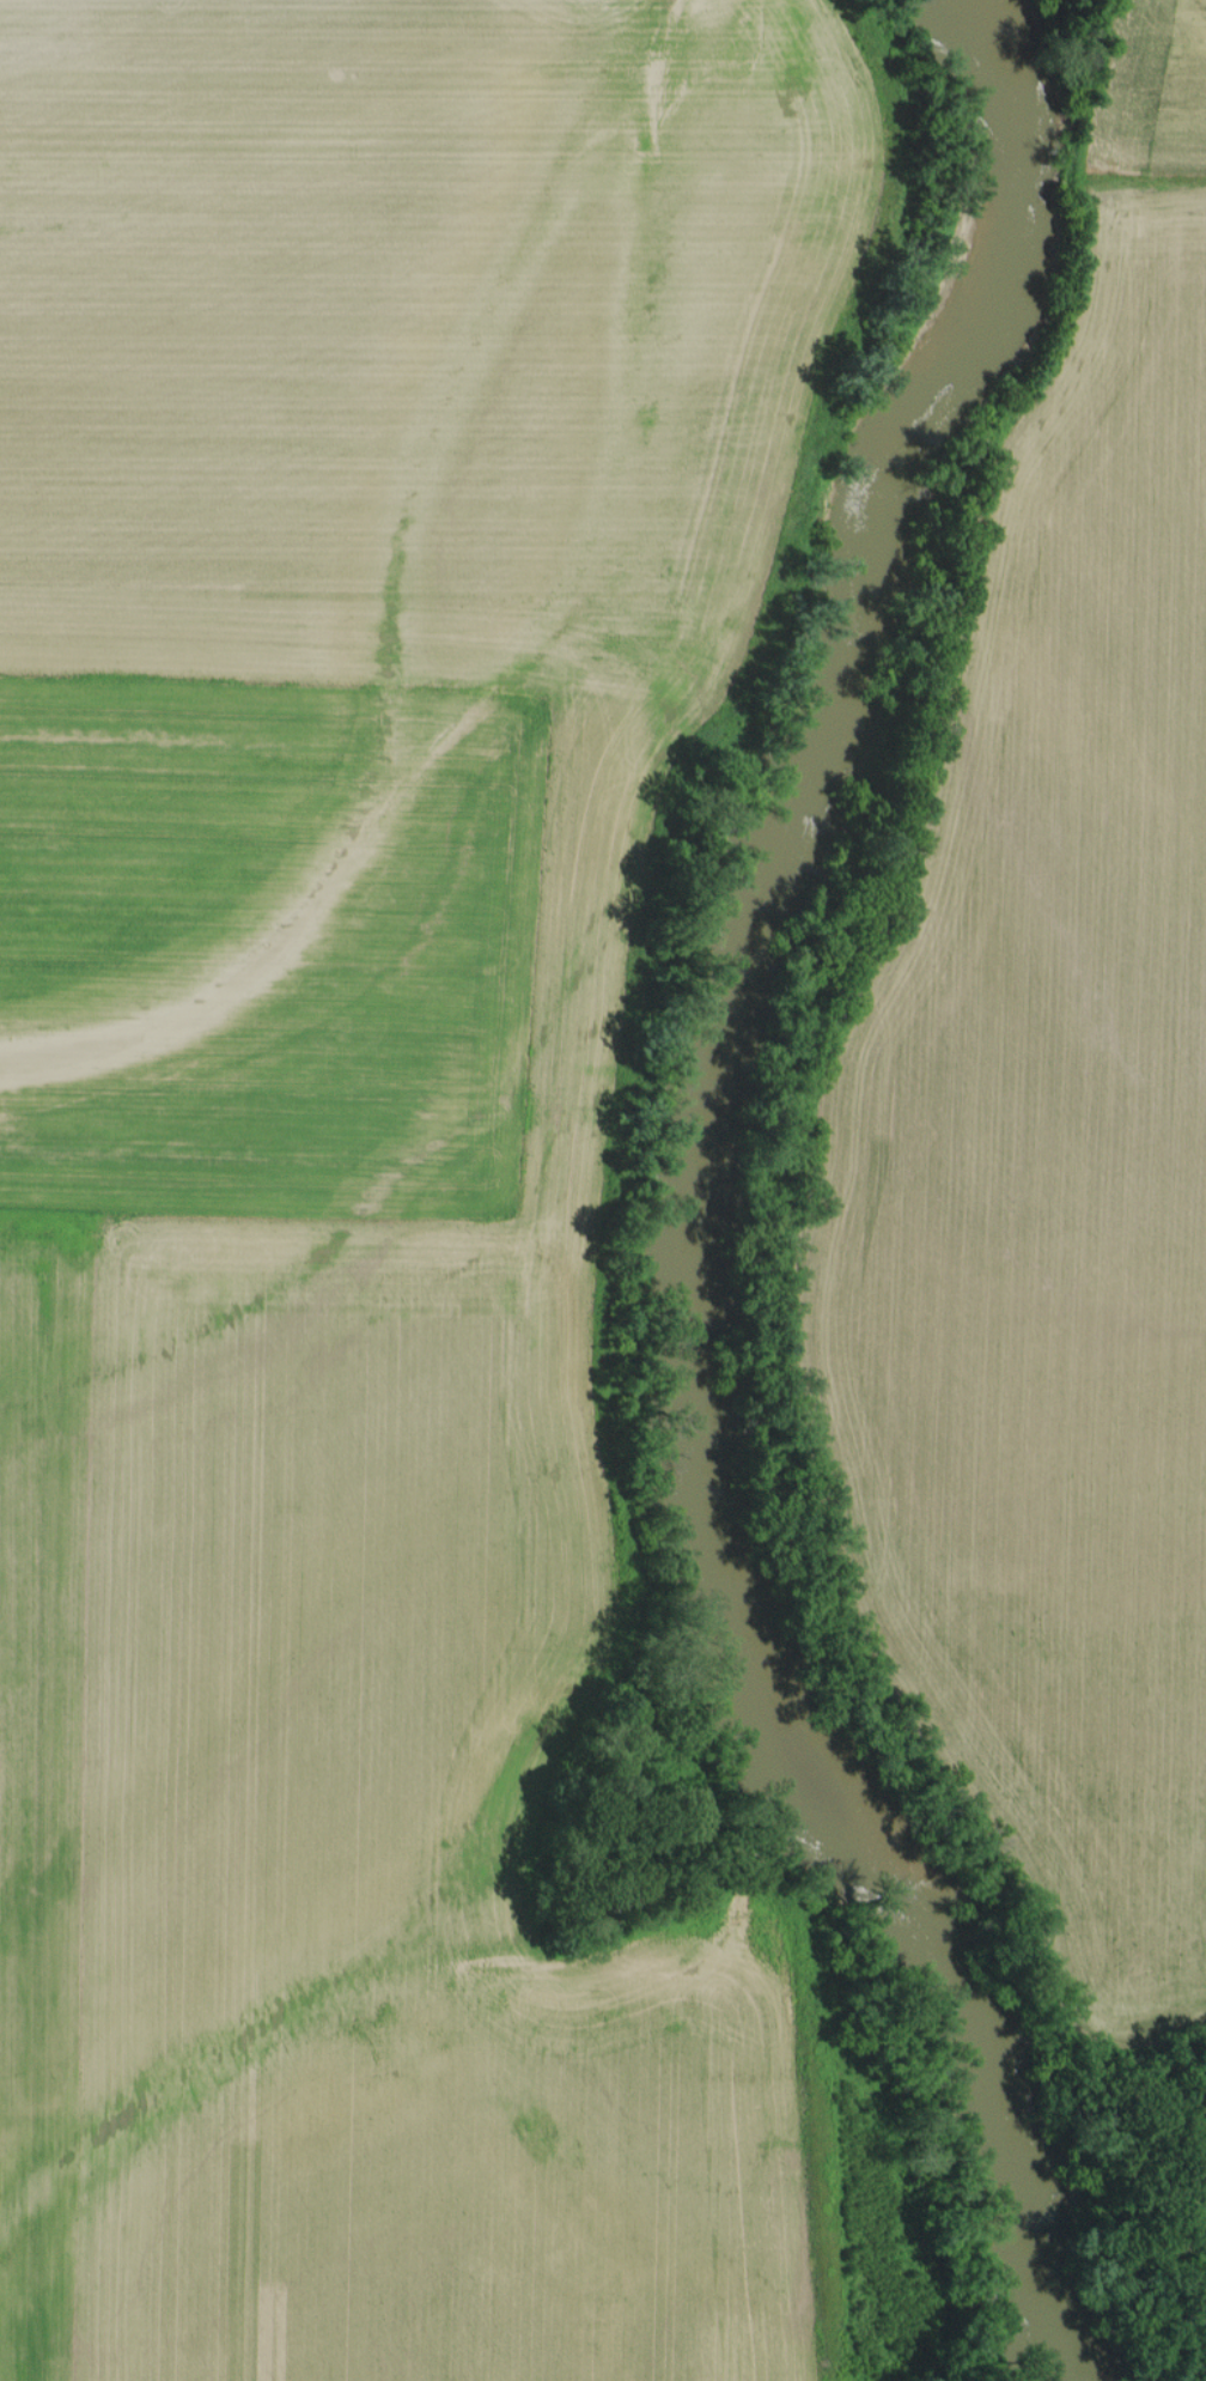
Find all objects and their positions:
river: (706, 1192)

